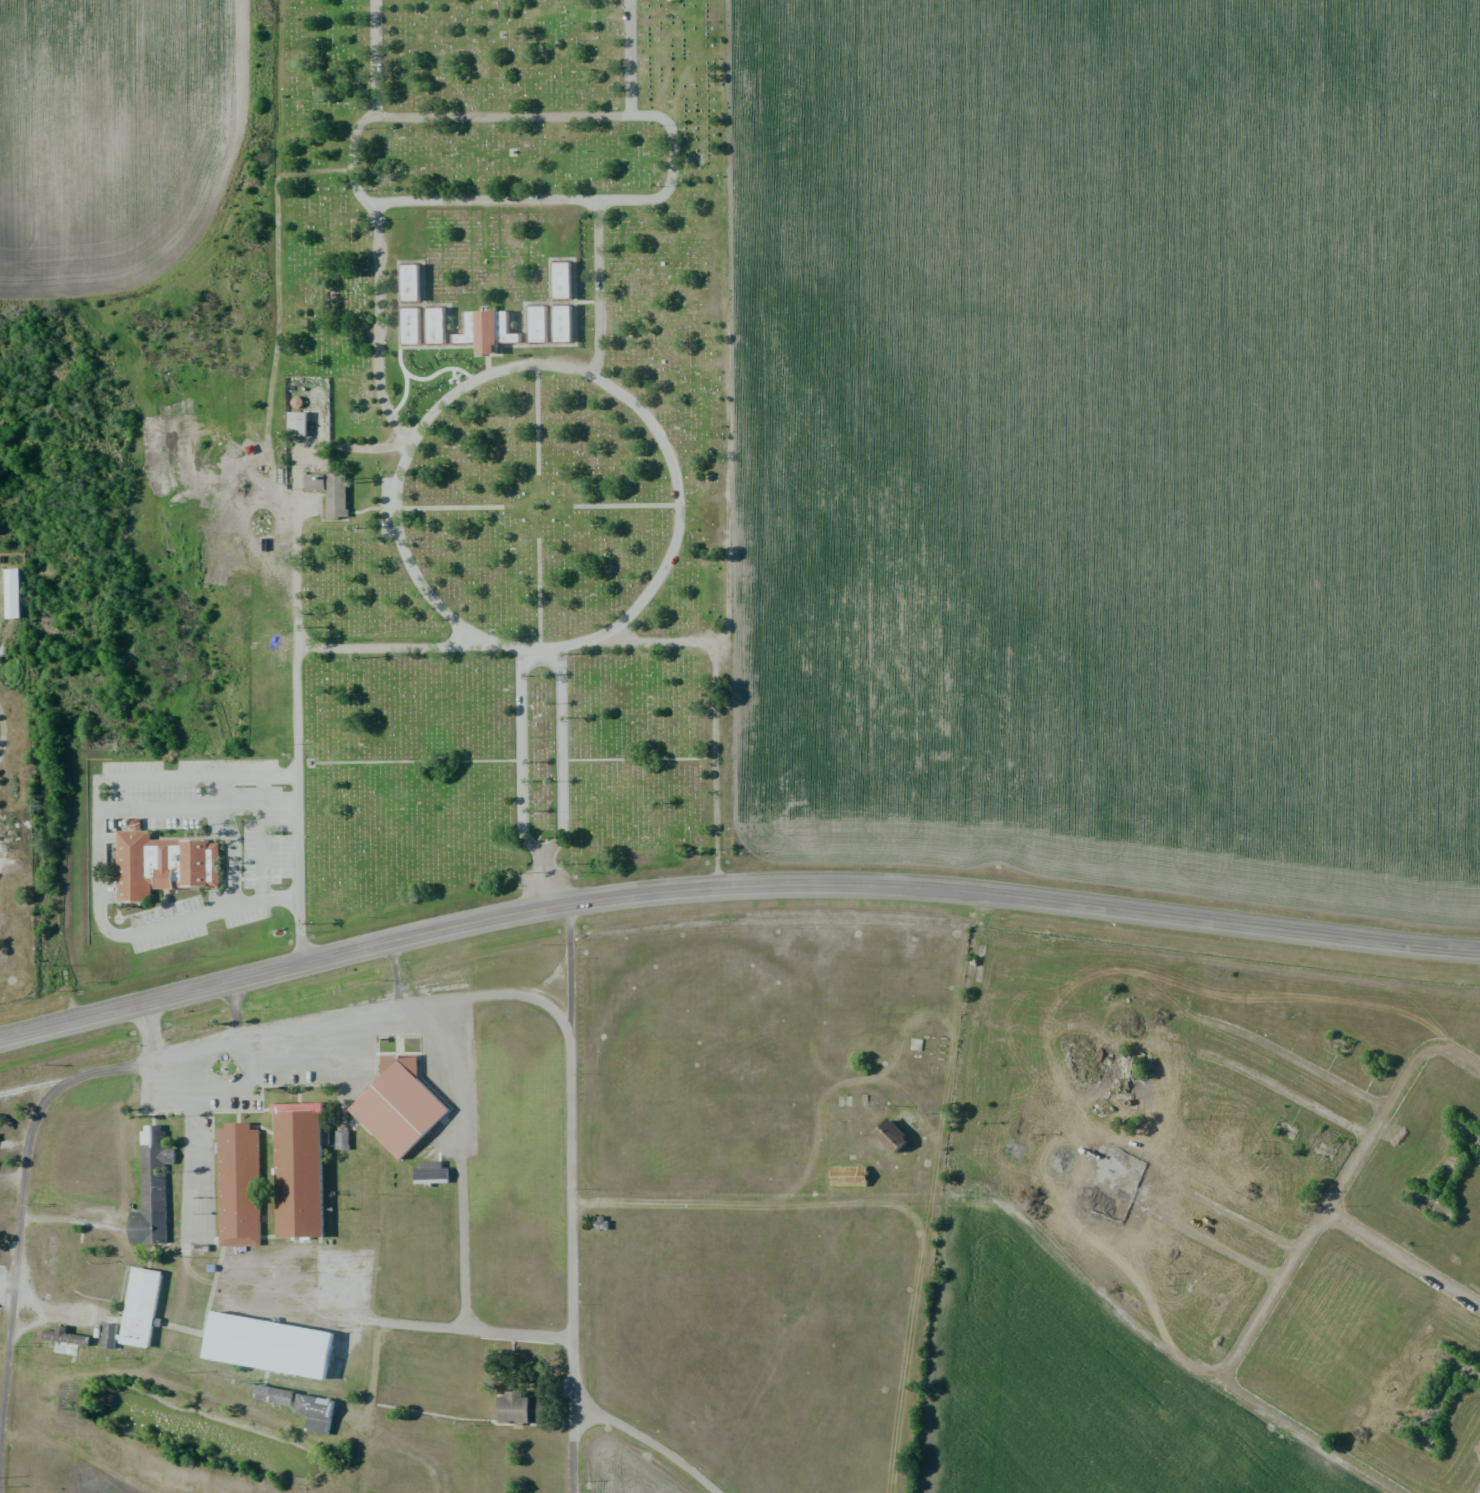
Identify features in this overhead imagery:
road: (374, 58)
road: (562, 116)
road: (354, 160)
road: (672, 176)
road: (377, 276)
building: (559, 280)
building: (408, 283)
building: (535, 324)
building: (561, 324)
building: (408, 325)
building: (469, 330)
road: (492, 372)
building: (296, 424)
park: (476, 481)
building: (334, 497)
road: (678, 534)
road: (296, 572)
building: (20, 596)
road: (395, 645)
road: (542, 653)
road: (719, 693)
road: (522, 752)
road: (562, 777)
road: (300, 804)
building: (17, 836)
road: (265, 837)
road: (97, 855)
building: (165, 864)
road: (733, 885)
building: (1082, 970)
road: (571, 1053)
road: (126, 1061)
building: (1048, 1088)
road: (1360, 1095)
road: (1303, 1101)
building: (406, 1112)
building: (889, 1136)
building: (846, 1176)
road: (1348, 1176)
building: (306, 1179)
building: (240, 1184)
building: (153, 1188)
road: (1024, 1221)
road: (1236, 1253)
building: (54, 1254)
road: (1403, 1259)
building: (147, 1309)
building: (110, 1335)
building: (60, 1346)
road: (575, 1347)
building: (277, 1349)
building: (276, 1394)
building: (522, 1408)
building: (317, 1412)
road: (594, 1412)
road: (1302, 1438)
road: (667, 1453)

